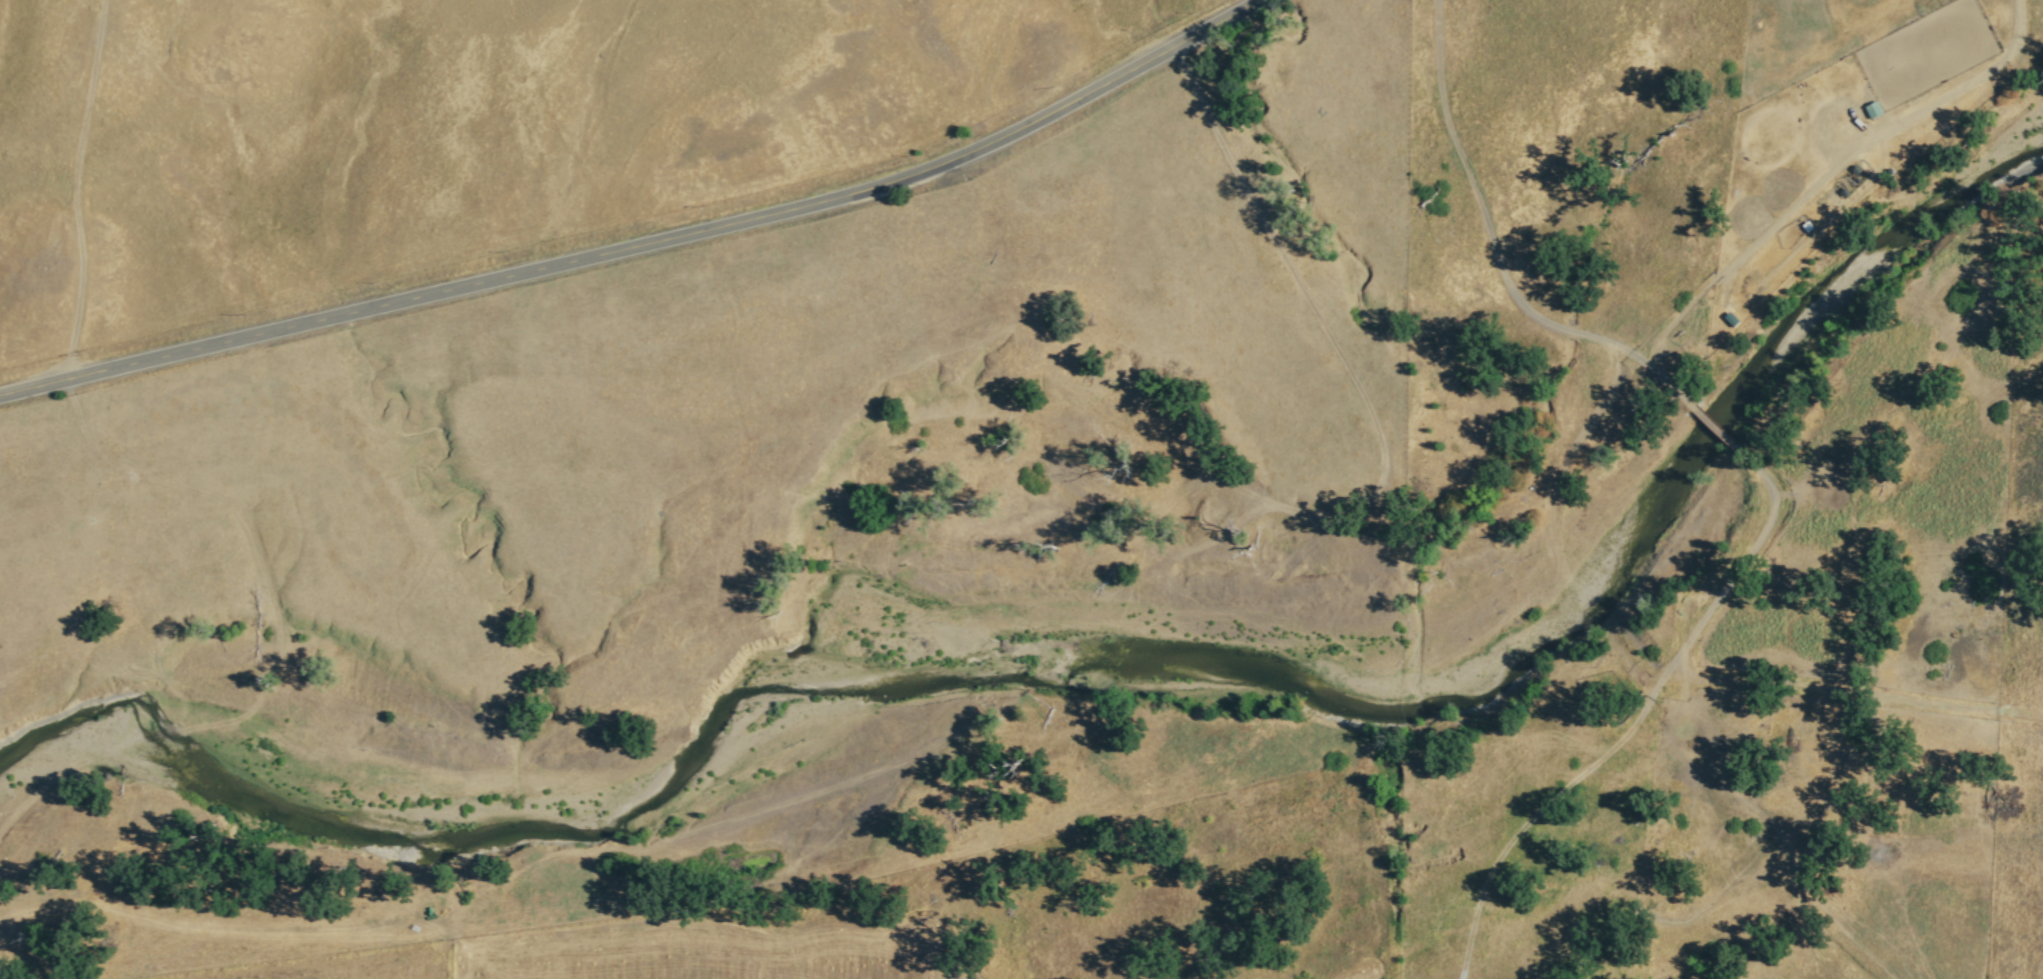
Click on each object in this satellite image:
building: (1872, 109)
crop: (1565, 179)
road: (75, 189)
road: (645, 246)
river: (1782, 335)
road: (1382, 451)
road: (275, 637)
river: (932, 676)
river: (151, 733)

